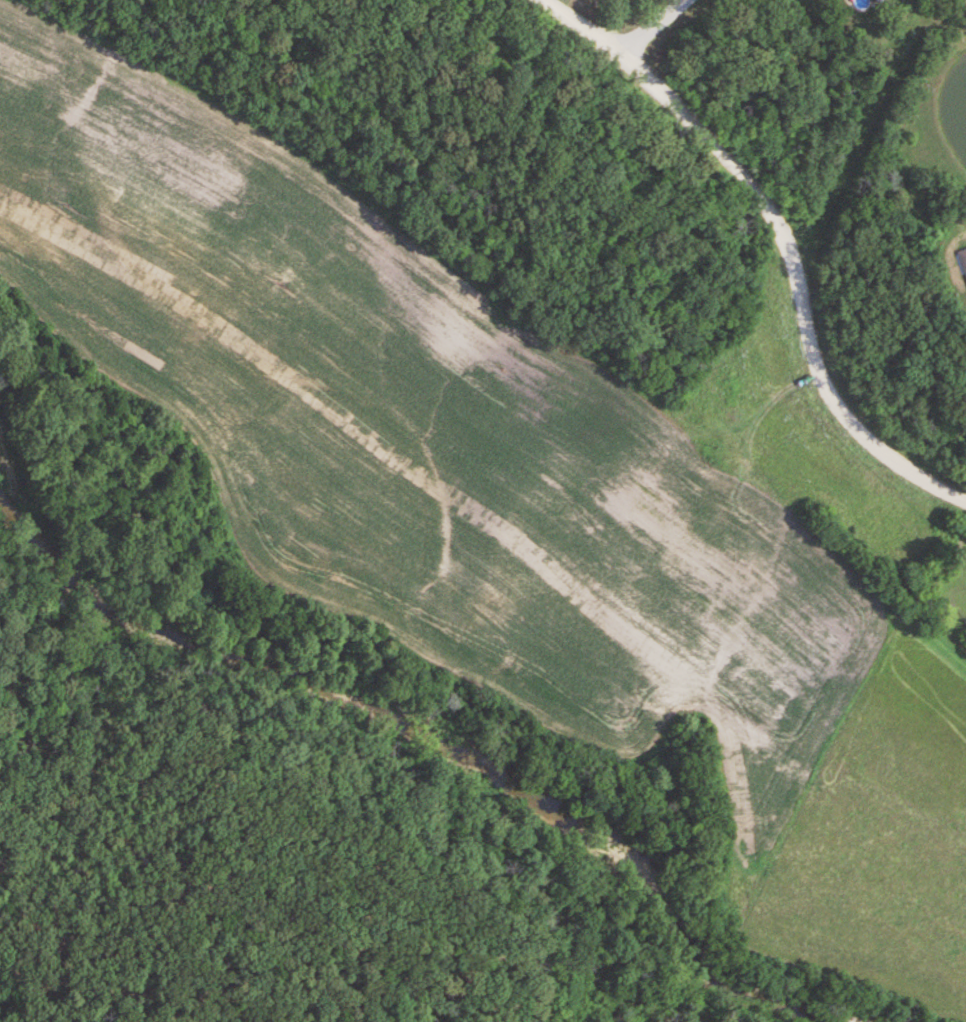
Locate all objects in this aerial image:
building: (877, 1)
road: (578, 27)
road: (652, 27)
building: (963, 258)
road: (797, 283)

